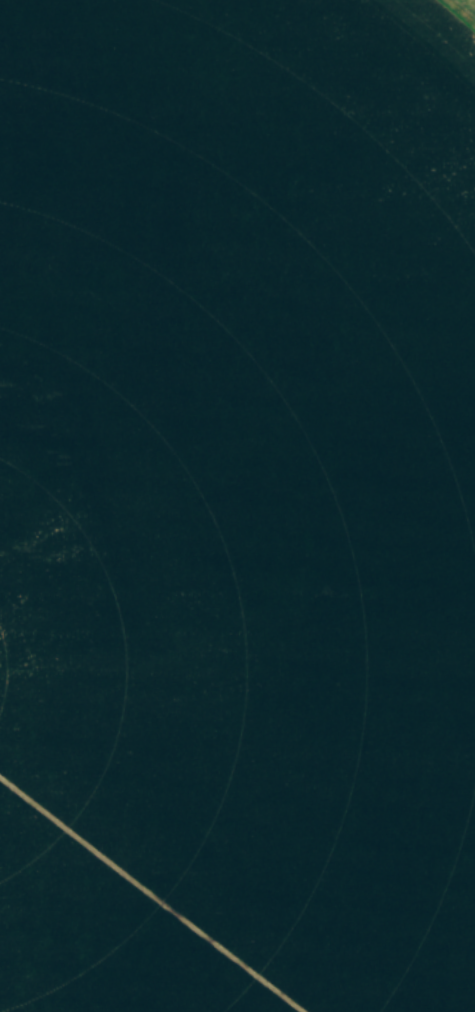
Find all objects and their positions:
crop: (237, 506)

